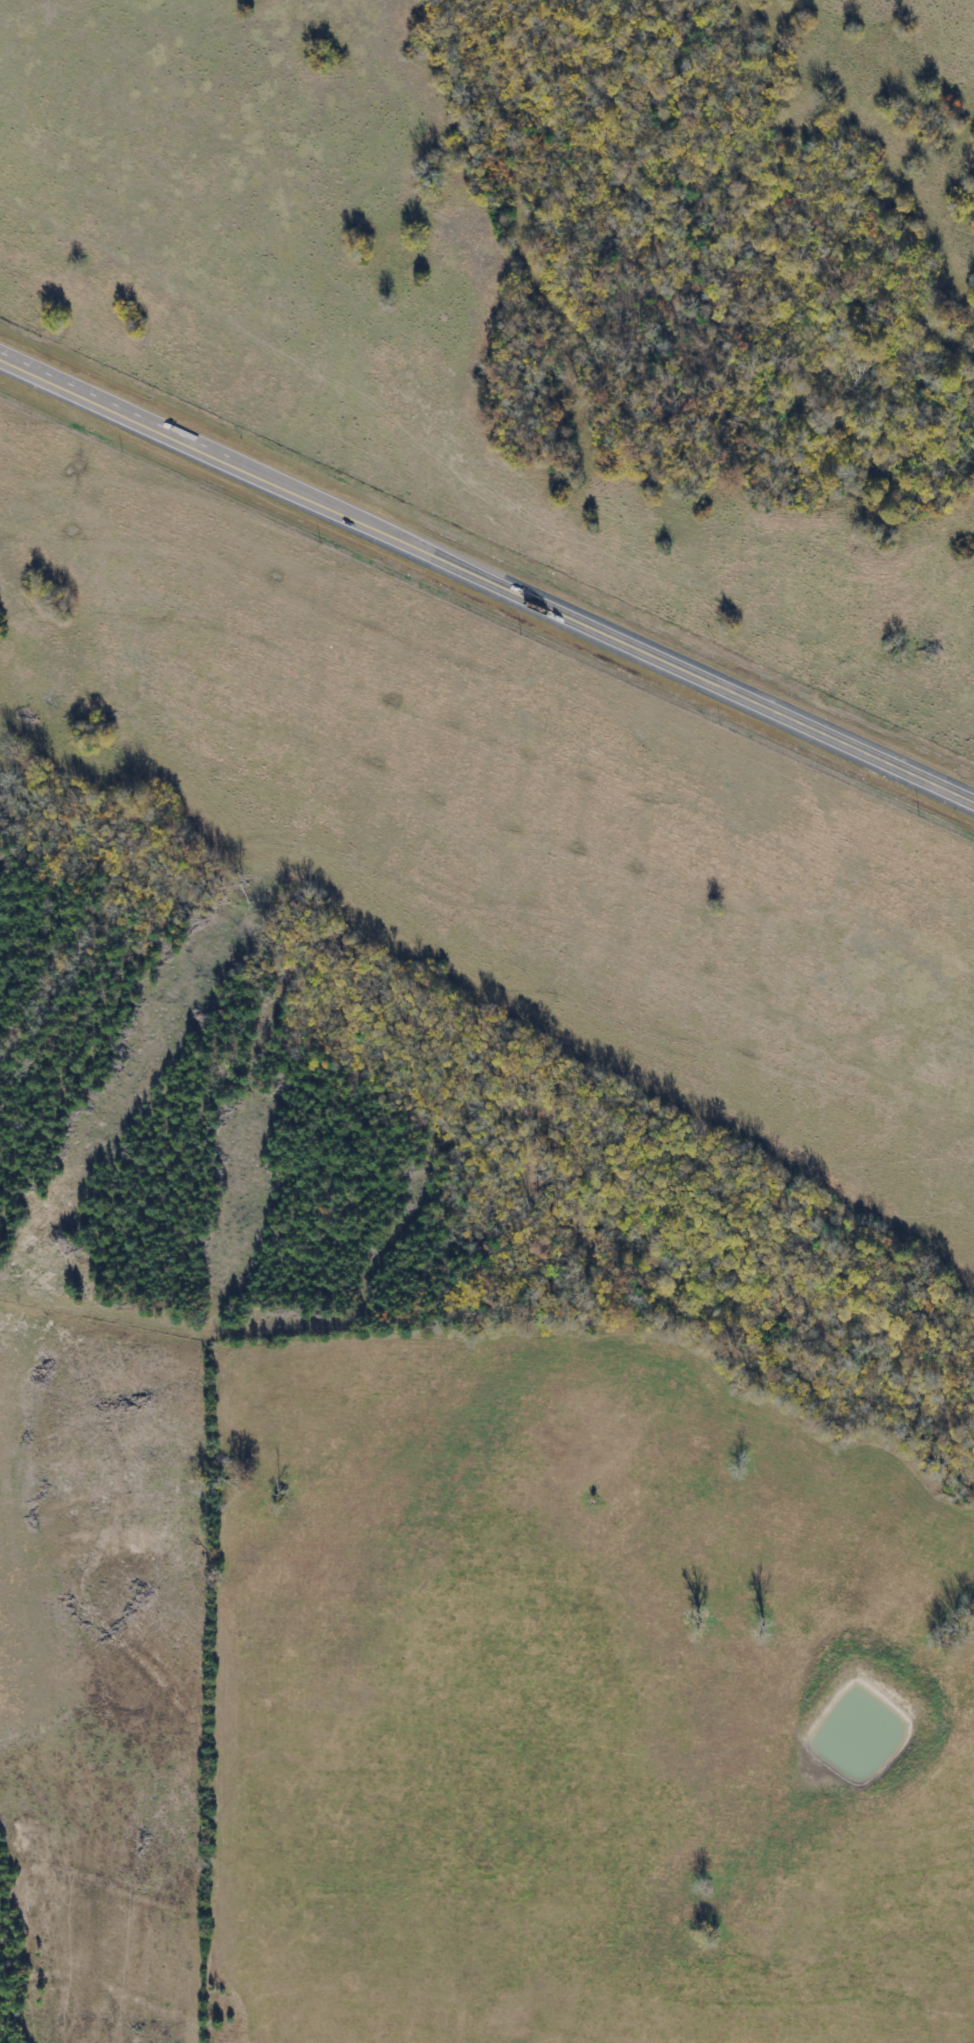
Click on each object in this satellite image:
road: (487, 575)

